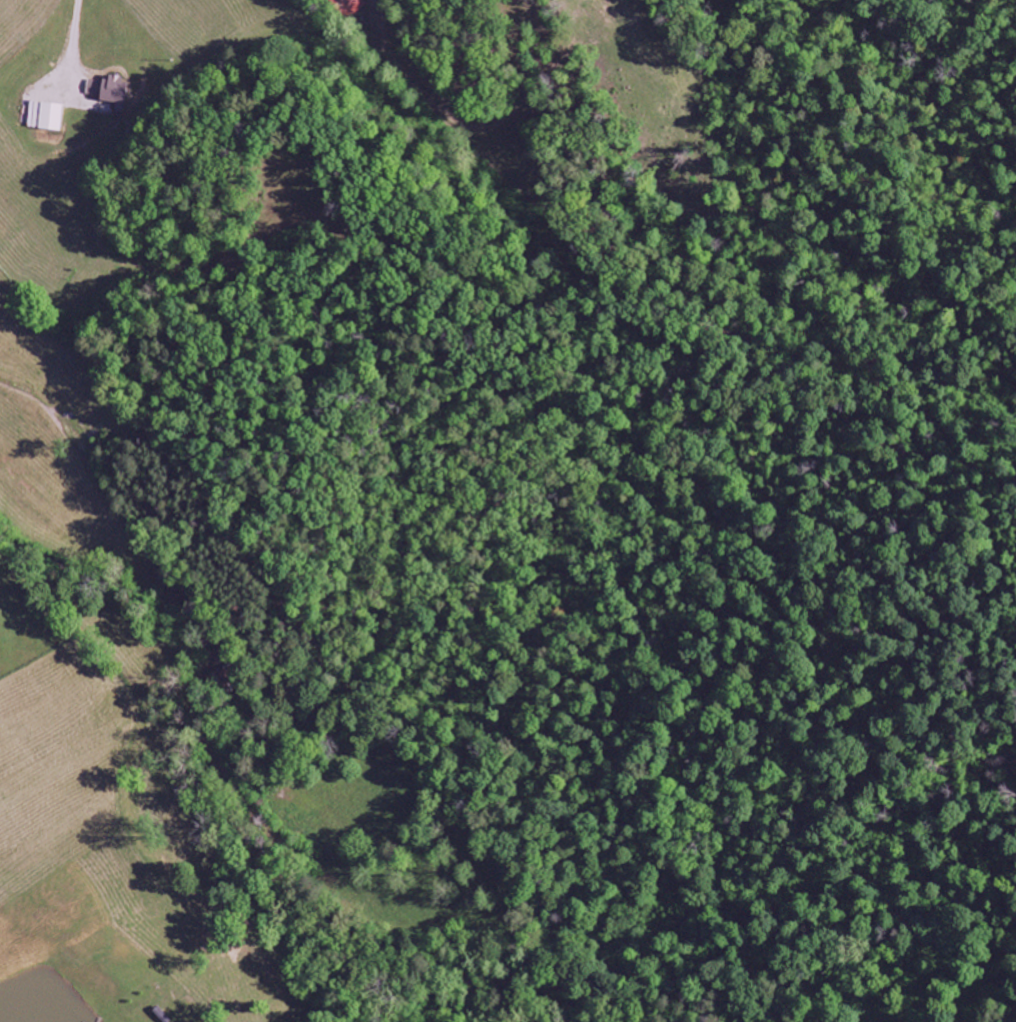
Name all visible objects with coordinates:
building: (350, 7)
building: (109, 92)
building: (45, 117)
road: (18, 959)

